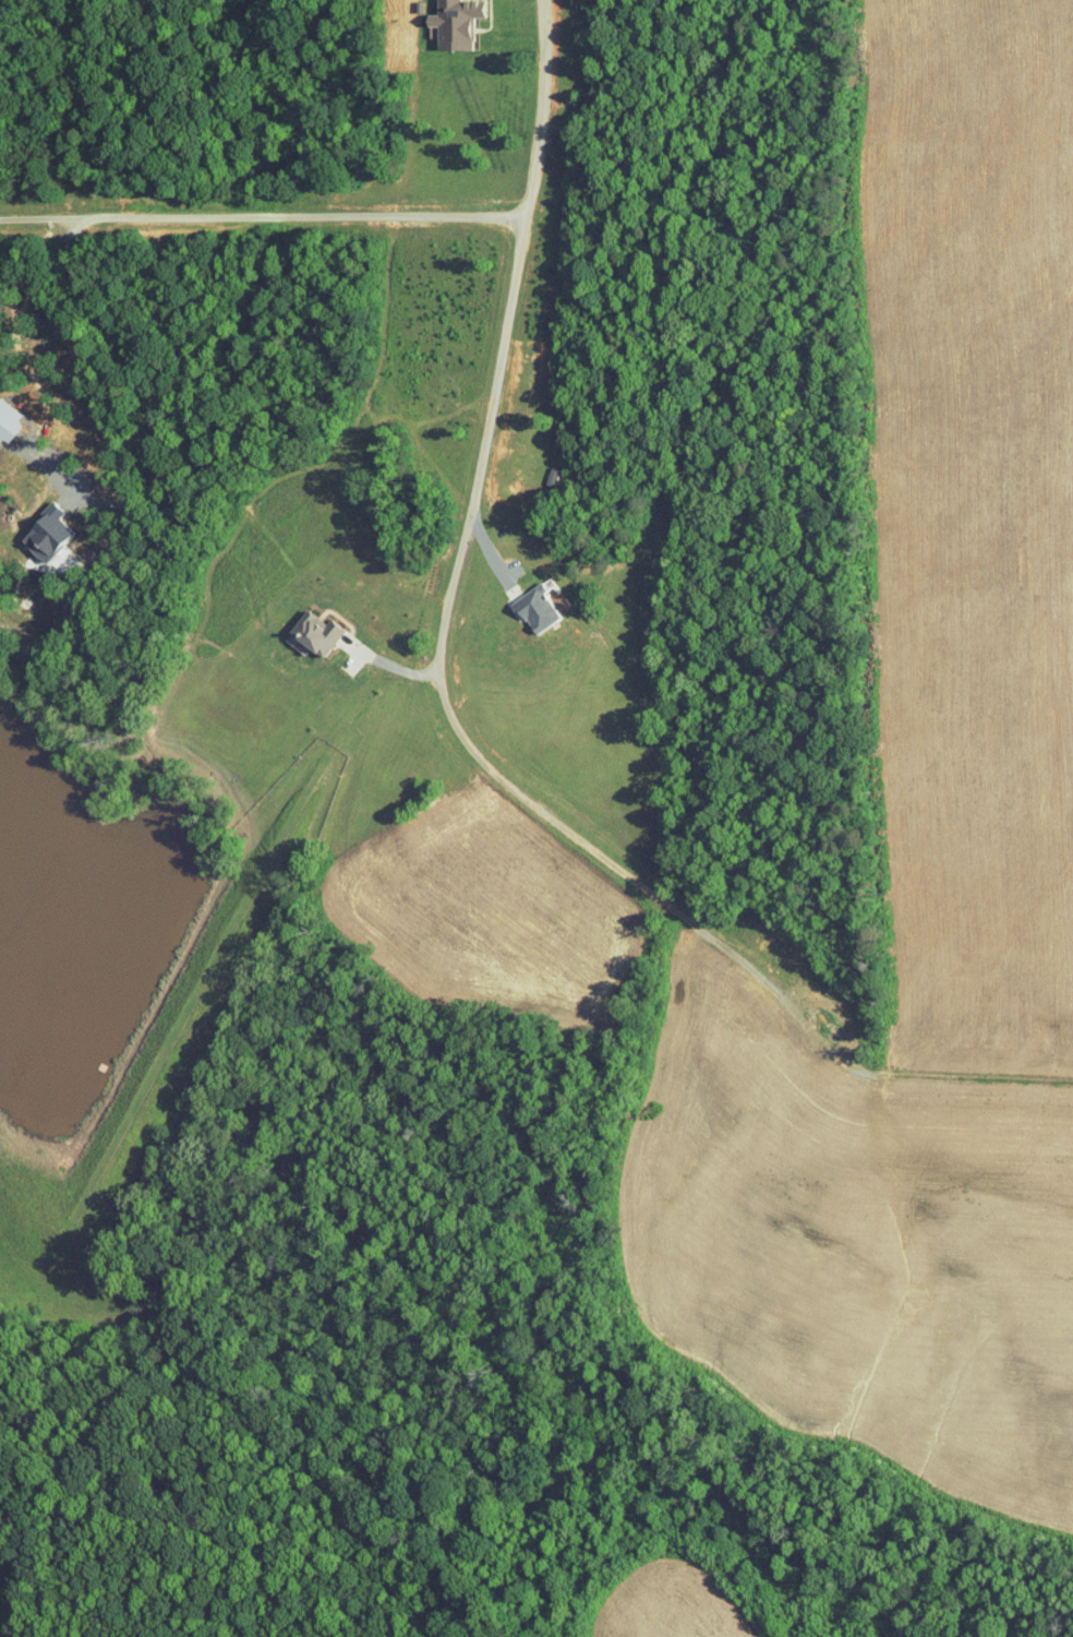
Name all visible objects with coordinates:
building: (439, 20)
road: (253, 211)
road: (143, 393)
building: (1, 415)
building: (32, 525)
building: (527, 598)
road: (431, 606)
building: (301, 625)

